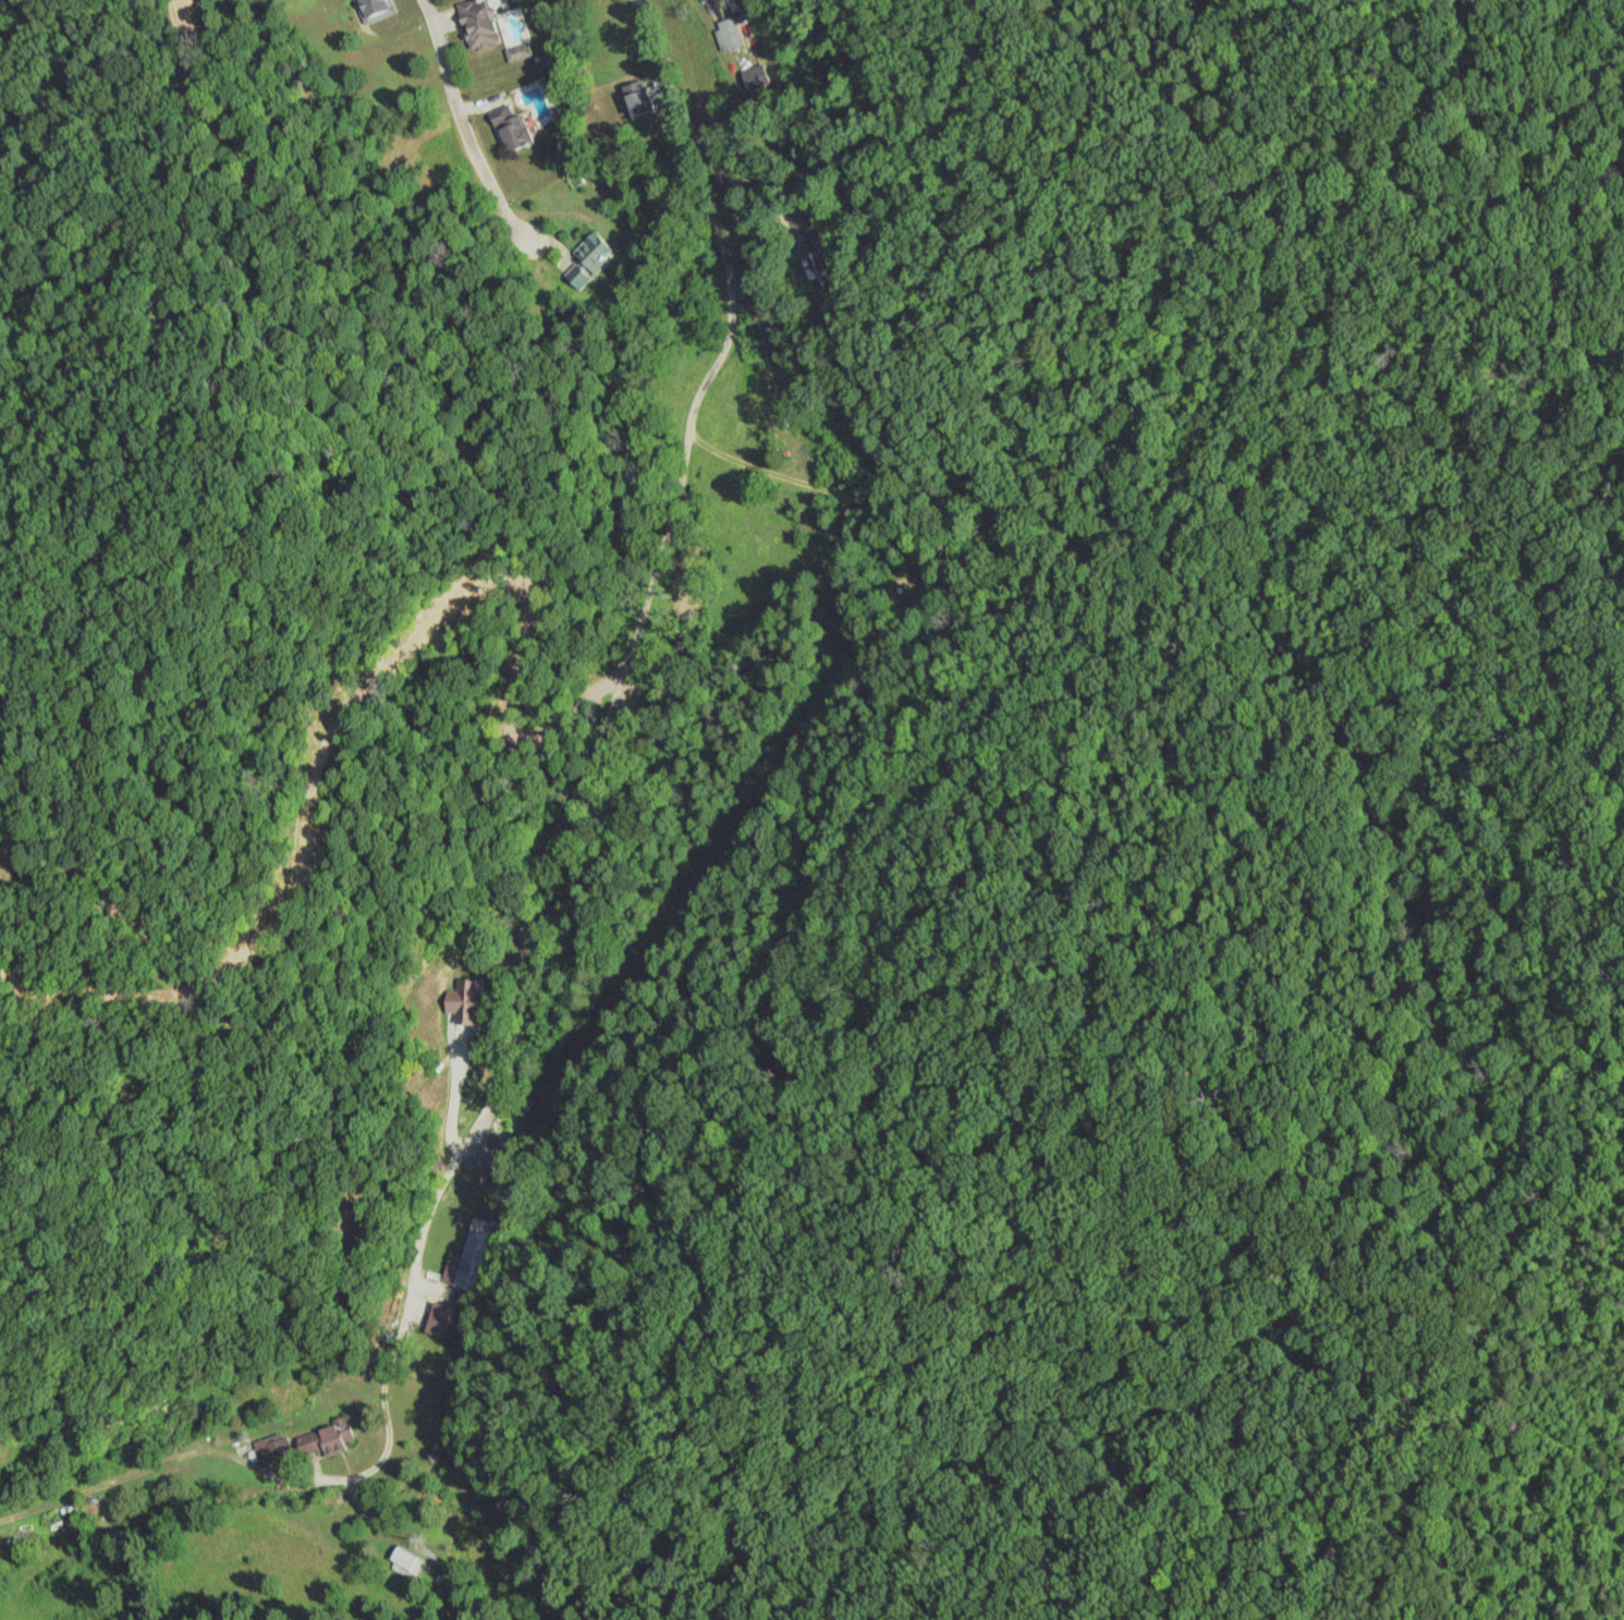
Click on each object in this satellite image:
building: (375, 10)
building: (477, 25)
building: (730, 35)
building: (637, 97)
road: (468, 127)
building: (511, 130)
building: (595, 252)
building: (821, 263)
road: (579, 807)
building: (464, 1004)
building: (483, 1255)
building: (449, 1323)
road: (1433, 1360)
building: (326, 1439)
building: (274, 1452)
building: (407, 1562)

